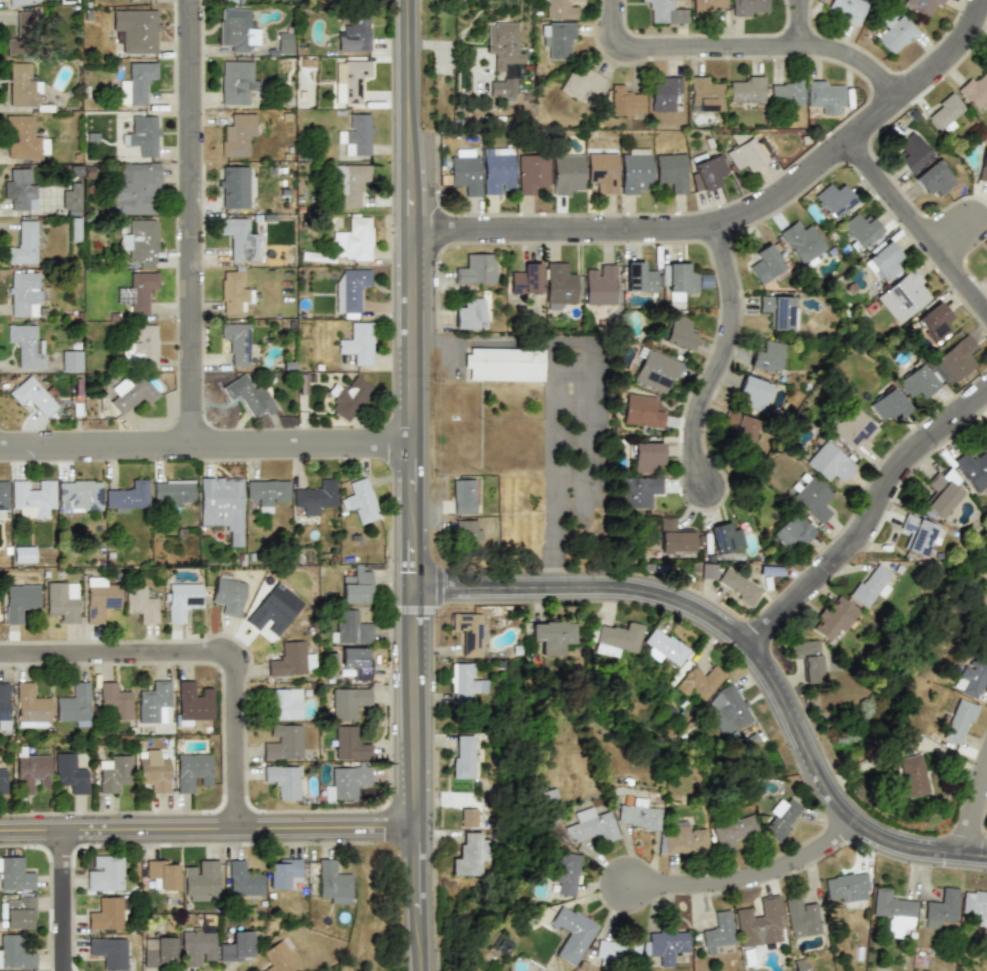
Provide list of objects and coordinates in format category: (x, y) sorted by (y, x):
building: (130, 0)
building: (19, 2)
building: (709, 5)
building: (923, 6)
building: (559, 8)
building: (749, 8)
building: (848, 10)
building: (667, 12)
road: (809, 27)
building: (137, 30)
building: (236, 30)
building: (895, 33)
building: (354, 34)
building: (21, 35)
building: (559, 39)
building: (285, 42)
building: (503, 43)
road: (745, 54)
building: (351, 78)
building: (581, 81)
building: (237, 83)
building: (138, 84)
building: (22, 86)
building: (502, 86)
building: (746, 89)
building: (974, 91)
building: (787, 93)
building: (666, 94)
building: (705, 95)
building: (827, 95)
building: (624, 102)
building: (946, 110)
building: (237, 134)
building: (356, 134)
building: (143, 135)
building: (24, 139)
building: (912, 152)
building: (746, 154)
building: (983, 166)
building: (499, 170)
building: (602, 171)
building: (636, 171)
building: (533, 172)
building: (671, 172)
building: (707, 172)
building: (567, 173)
building: (466, 174)
building: (934, 178)
building: (233, 186)
building: (352, 186)
building: (19, 188)
building: (134, 188)
building: (70, 199)
building: (833, 199)
road: (746, 224)
road: (198, 225)
building: (74, 228)
building: (858, 230)
road: (920, 230)
building: (239, 239)
building: (353, 239)
building: (143, 243)
building: (802, 243)
road: (960, 243)
building: (22, 244)
building: (883, 261)
building: (765, 264)
building: (475, 268)
building: (639, 277)
building: (526, 279)
building: (679, 281)
building: (704, 281)
building: (600, 284)
building: (558, 285)
building: (349, 288)
building: (232, 290)
building: (137, 291)
building: (23, 294)
building: (904, 296)
building: (779, 311)
building: (470, 314)
building: (934, 321)
building: (679, 332)
building: (236, 342)
building: (357, 342)
building: (144, 344)
building: (25, 345)
building: (767, 357)
building: (955, 359)
building: (71, 360)
building: (503, 364)
road: (728, 366)
building: (656, 369)
building: (917, 380)
building: (753, 392)
building: (131, 393)
building: (32, 396)
building: (248, 396)
building: (348, 397)
road: (566, 399)
building: (888, 404)
building: (640, 411)
building: (739, 428)
building: (986, 430)
building: (853, 431)
building: (986, 443)
road: (209, 451)
building: (645, 455)
building: (828, 462)
building: (973, 468)
road: (419, 485)
building: (639, 491)
building: (173, 492)
building: (941, 492)
building: (267, 493)
building: (463, 493)
building: (3, 495)
building: (79, 496)
building: (32, 497)
building: (127, 497)
building: (812, 497)
building: (314, 498)
building: (361, 500)
building: (222, 504)
building: (791, 531)
road: (873, 531)
building: (465, 534)
building: (673, 536)
building: (919, 536)
building: (725, 538)
building: (23, 554)
building: (708, 571)
building: (870, 583)
building: (738, 585)
building: (356, 586)
building: (228, 595)
building: (100, 597)
building: (20, 600)
building: (182, 600)
building: (63, 601)
building: (141, 604)
building: (270, 613)
building: (833, 619)
building: (984, 623)
building: (352, 628)
building: (468, 632)
building: (552, 636)
building: (616, 639)
building: (985, 640)
building: (664, 646)
road: (747, 651)
building: (807, 659)
building: (290, 660)
road: (209, 661)
building: (357, 662)
building: (973, 674)
building: (699, 680)
building: (464, 682)
building: (114, 700)
building: (154, 703)
building: (191, 703)
building: (286, 703)
building: (347, 703)
building: (73, 704)
building: (3, 705)
building: (31, 706)
building: (728, 709)
building: (959, 721)
building: (283, 742)
building: (349, 743)
building: (462, 756)
building: (192, 770)
building: (31, 771)
building: (70, 772)
building: (154, 772)
building: (114, 773)
building: (3, 774)
building: (912, 775)
building: (283, 781)
building: (346, 783)
road: (970, 804)
building: (638, 814)
building: (471, 817)
building: (781, 819)
building: (591, 826)
building: (732, 831)
road: (209, 838)
building: (683, 840)
building: (468, 855)
building: (282, 872)
building: (566, 872)
building: (105, 873)
building: (162, 873)
building: (15, 874)
building: (200, 879)
building: (243, 880)
building: (332, 881)
road: (756, 886)
building: (847, 886)
road: (67, 905)
building: (975, 905)
building: (940, 907)
building: (892, 911)
building: (17, 912)
building: (105, 913)
building: (800, 917)
building: (760, 922)
building: (718, 929)
building: (573, 932)
building: (666, 943)
building: (235, 946)
building: (196, 947)
building: (618, 947)
building: (158, 951)
building: (15, 952)
building: (107, 952)
building: (277, 956)

